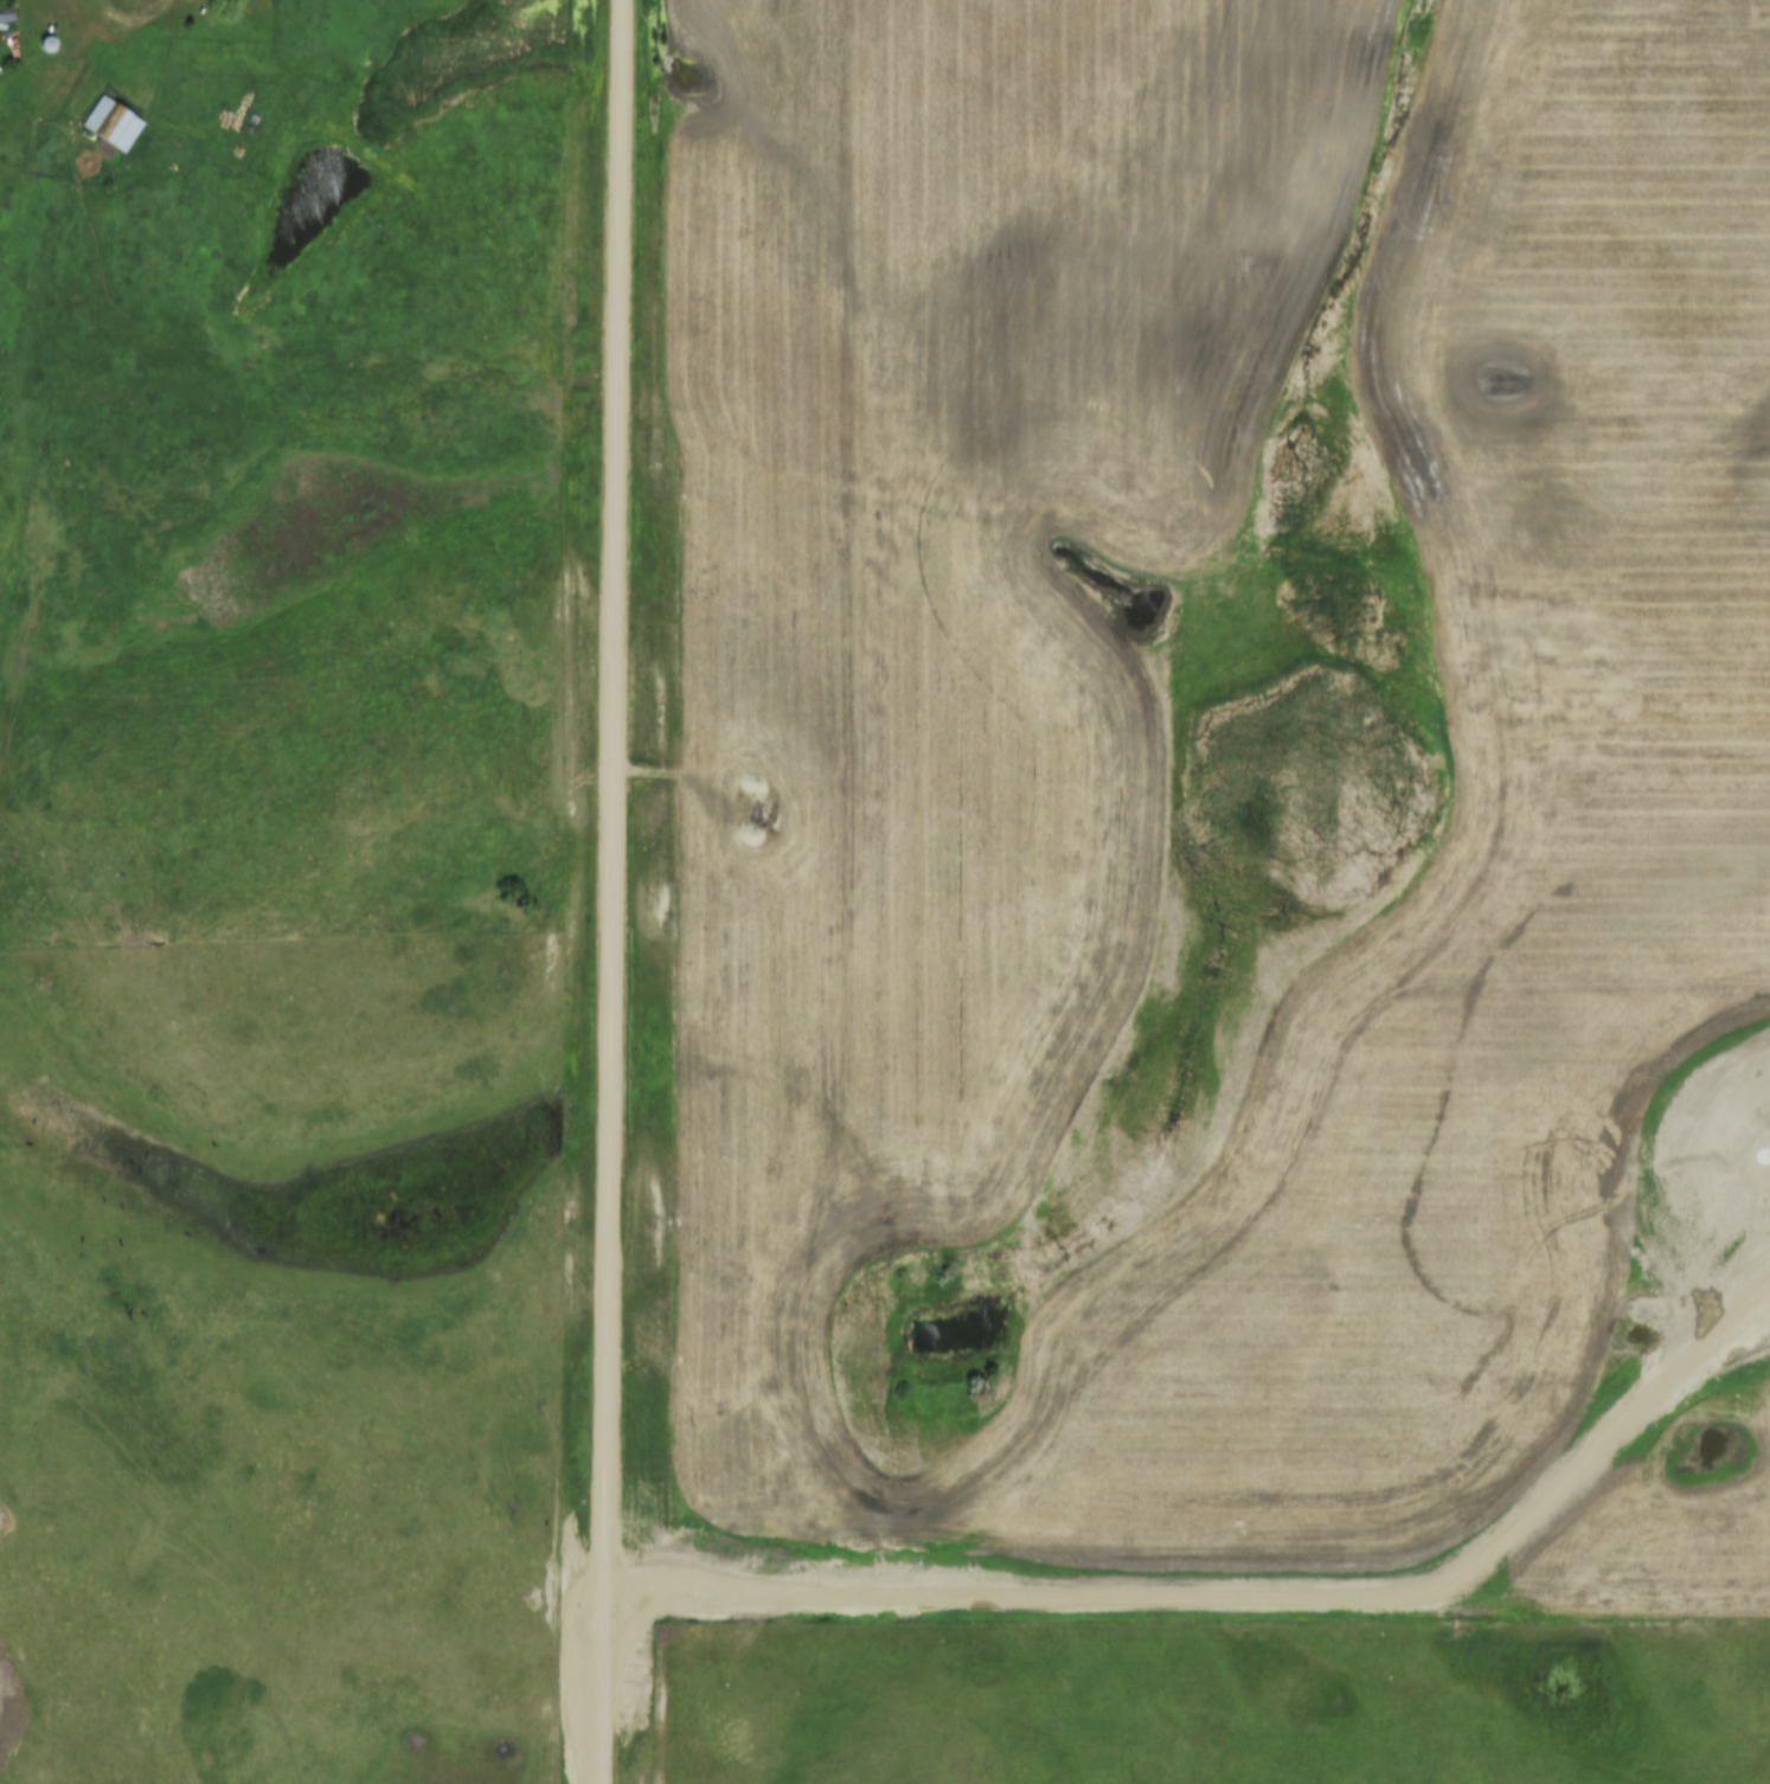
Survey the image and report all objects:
road: (141, 19)
building: (117, 128)
building: (145, 462)
road: (613, 892)

